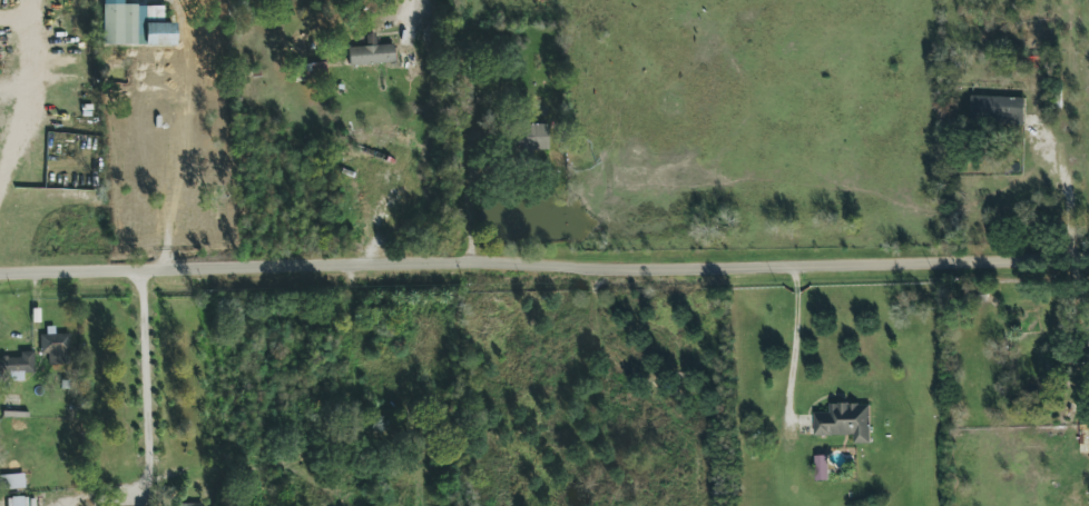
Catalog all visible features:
road: (408, 10)
building: (136, 24)
building: (371, 53)
road: (35, 97)
building: (997, 108)
building: (533, 138)
road: (779, 264)
road: (235, 265)
road: (791, 338)
building: (56, 348)
building: (17, 366)
road: (149, 408)
building: (844, 420)
building: (821, 467)
building: (11, 482)
building: (17, 502)
building: (188, 504)

